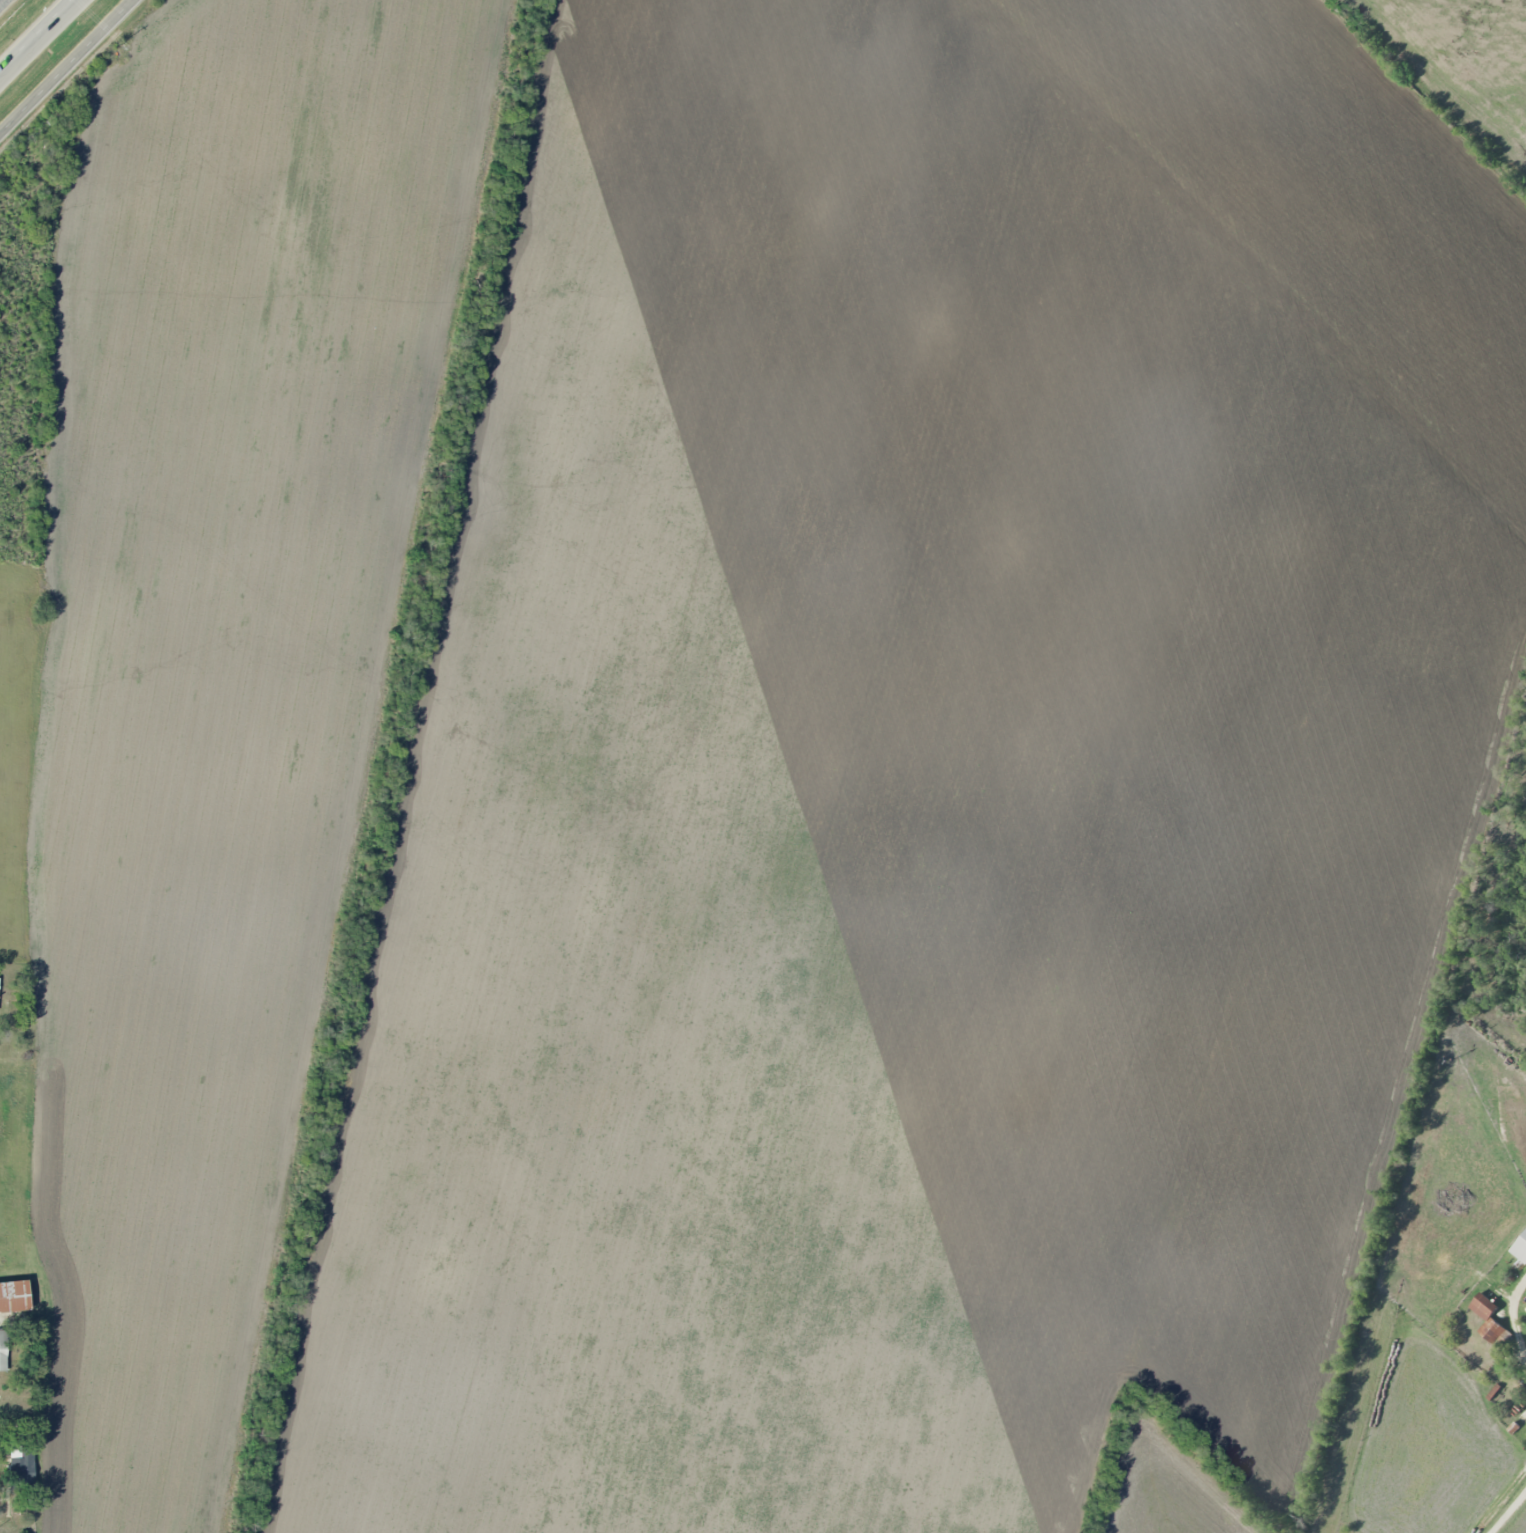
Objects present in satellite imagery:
road: (1, 1)
road: (35, 35)
road: (67, 69)
building: (1520, 1248)
building: (13, 1297)
building: (1486, 1317)
road: (1514, 1318)
road: (1512, 1516)

